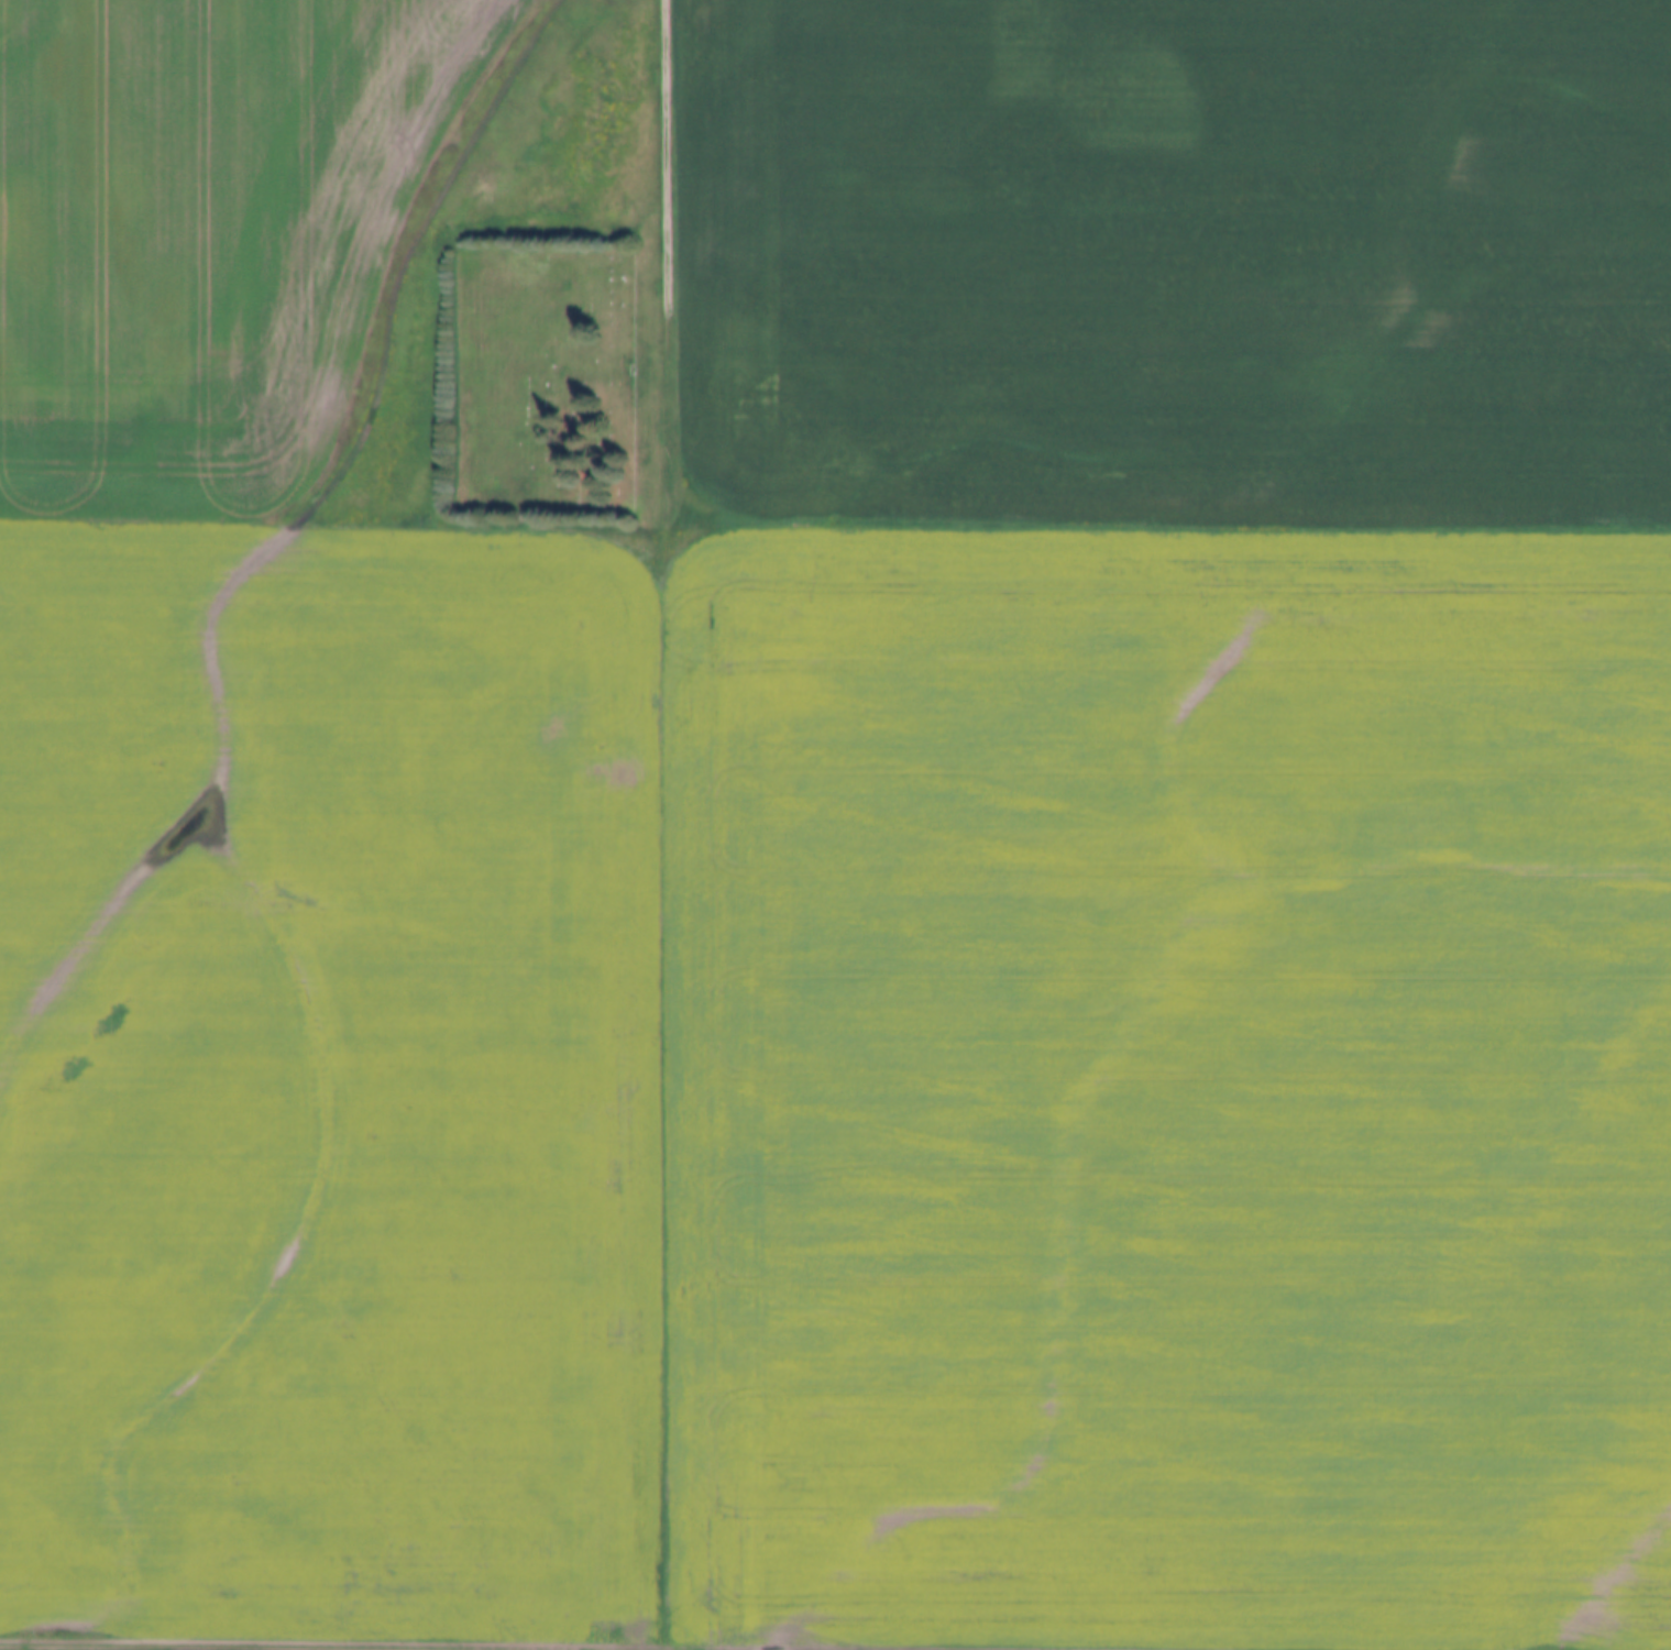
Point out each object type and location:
road: (671, 252)
park: (542, 377)
road: (666, 1640)

